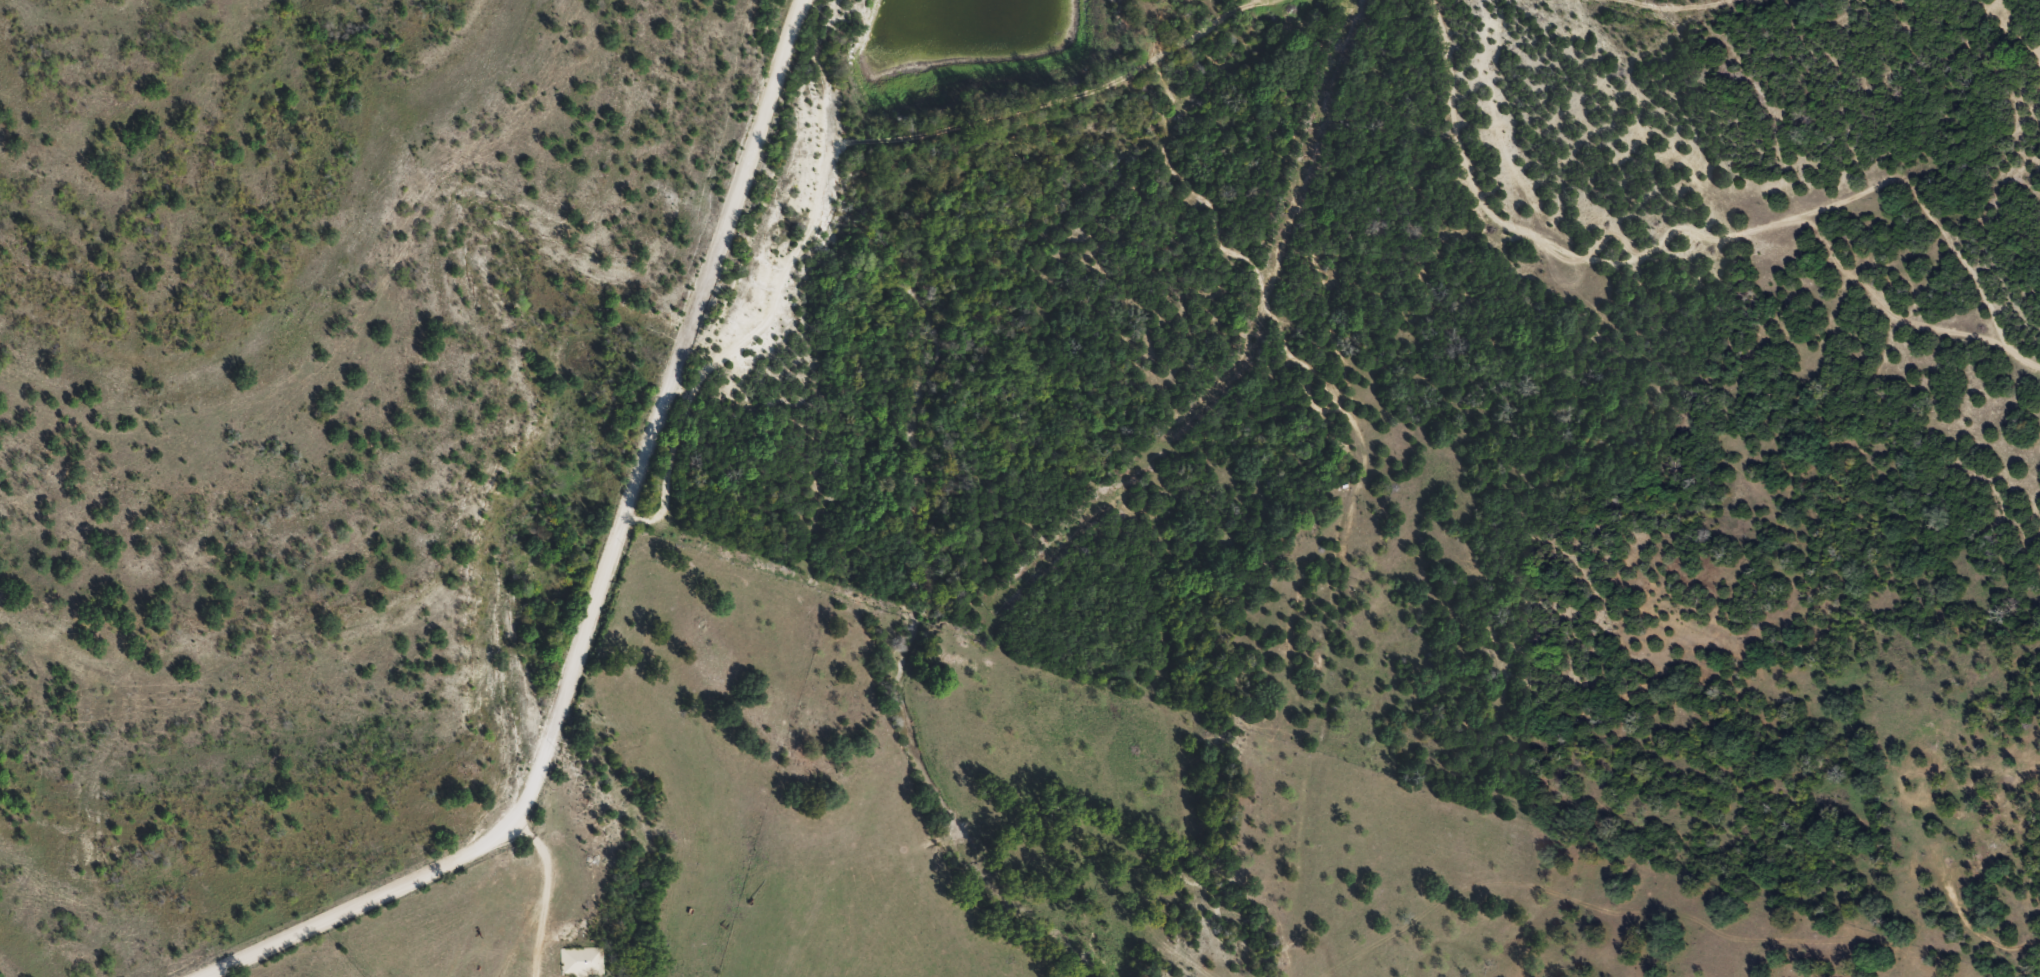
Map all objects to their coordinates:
road: (1322, 54)
road: (708, 263)
road: (628, 783)
road: (503, 830)
building: (585, 960)

